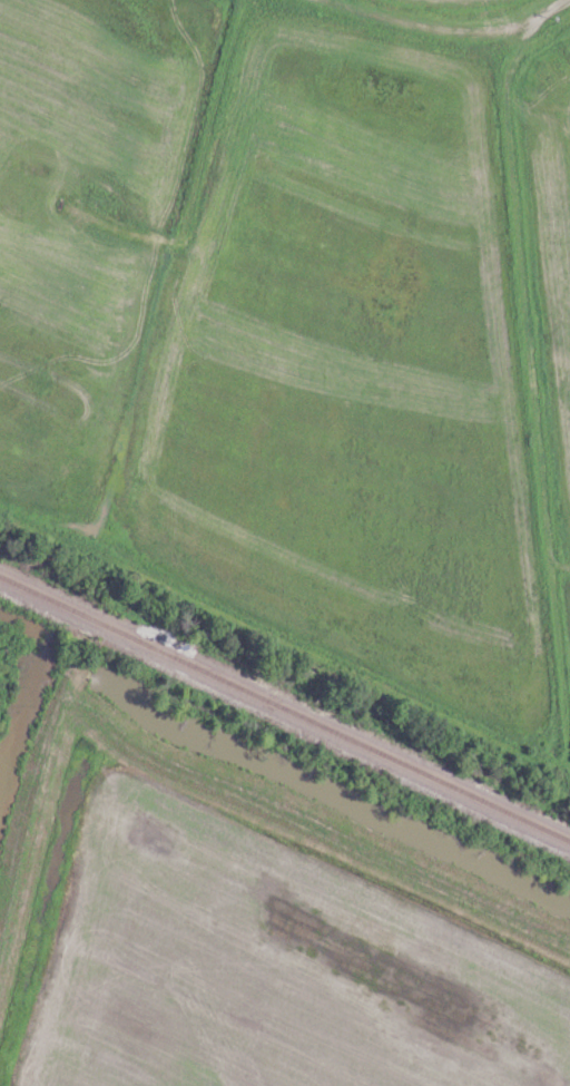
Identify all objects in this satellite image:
railway: (285, 707)

